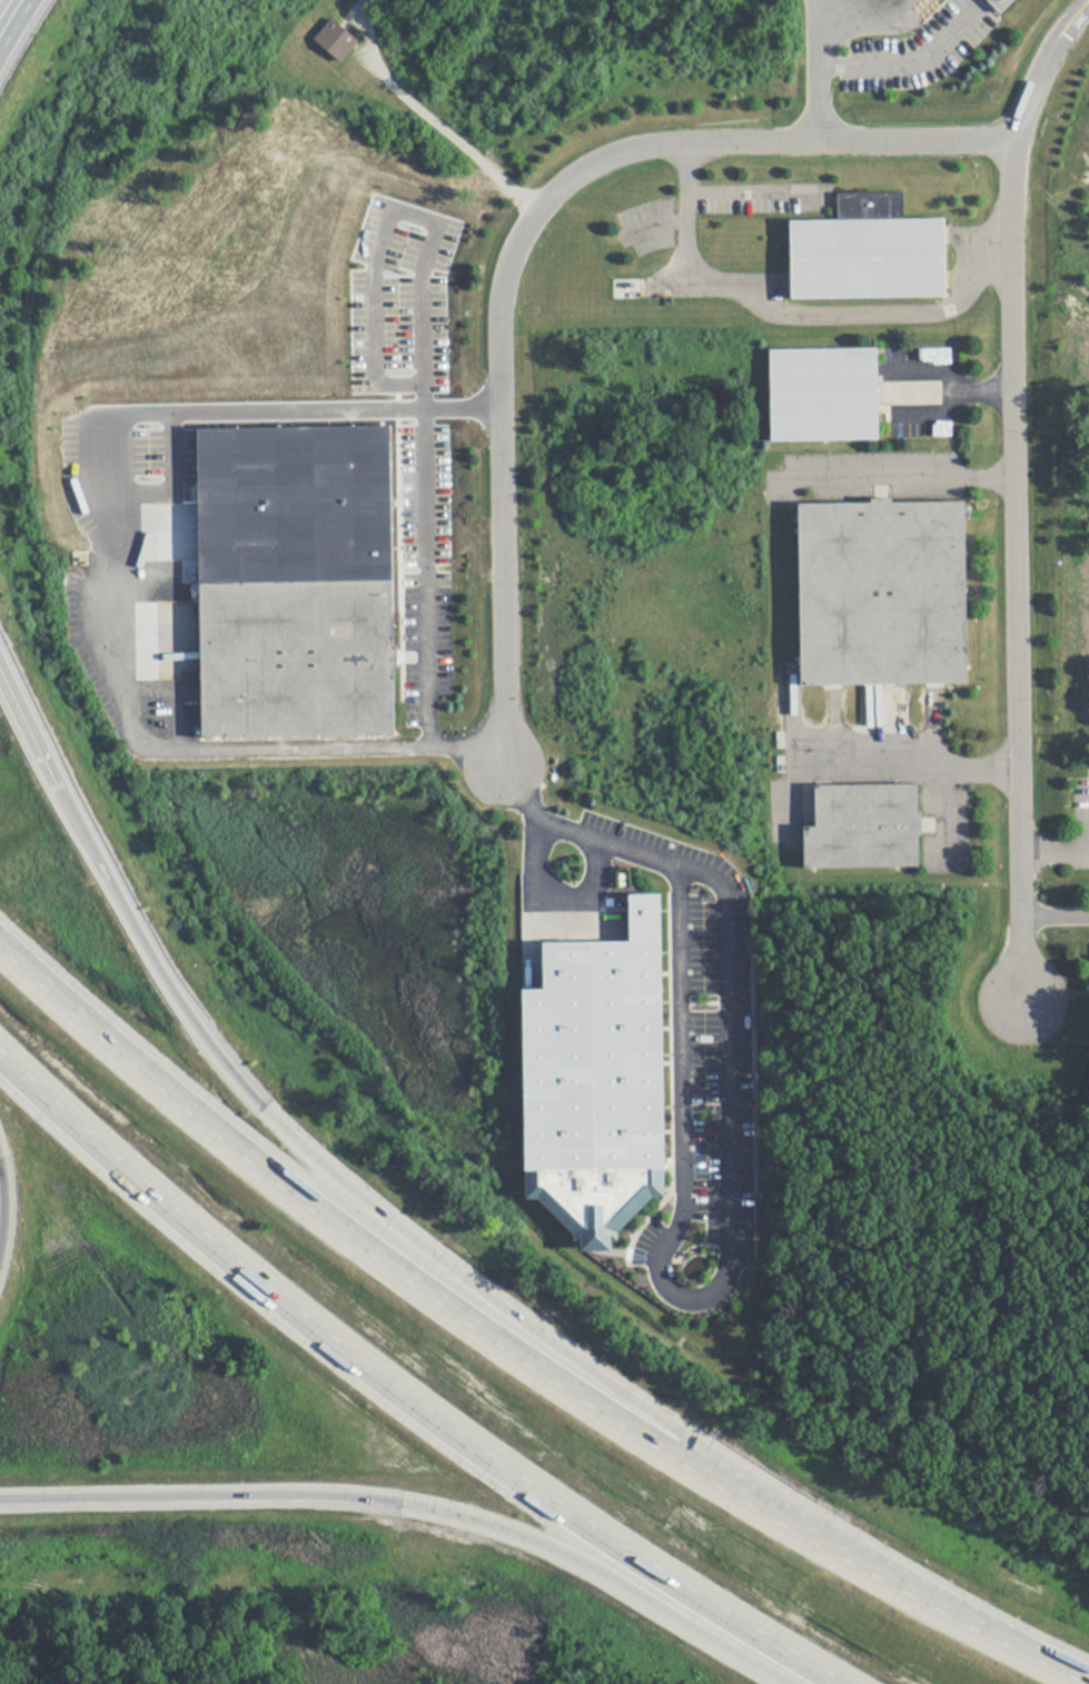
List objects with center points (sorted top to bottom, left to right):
building: (1002, 3)
road: (7, 12)
building: (334, 37)
road: (899, 53)
road: (819, 69)
road: (454, 139)
road: (749, 191)
road: (521, 238)
building: (870, 257)
road: (794, 315)
road: (959, 376)
building: (825, 394)
road: (907, 484)
road: (1014, 489)
building: (885, 592)
road: (108, 638)
road: (426, 650)
building: (295, 655)
road: (910, 764)
building: (865, 826)
road: (1053, 848)
road: (557, 894)
road: (1055, 915)
road: (217, 1048)
building: (600, 1074)
road: (672, 1229)
road: (509, 1350)
road: (379, 1390)
road: (417, 1497)

